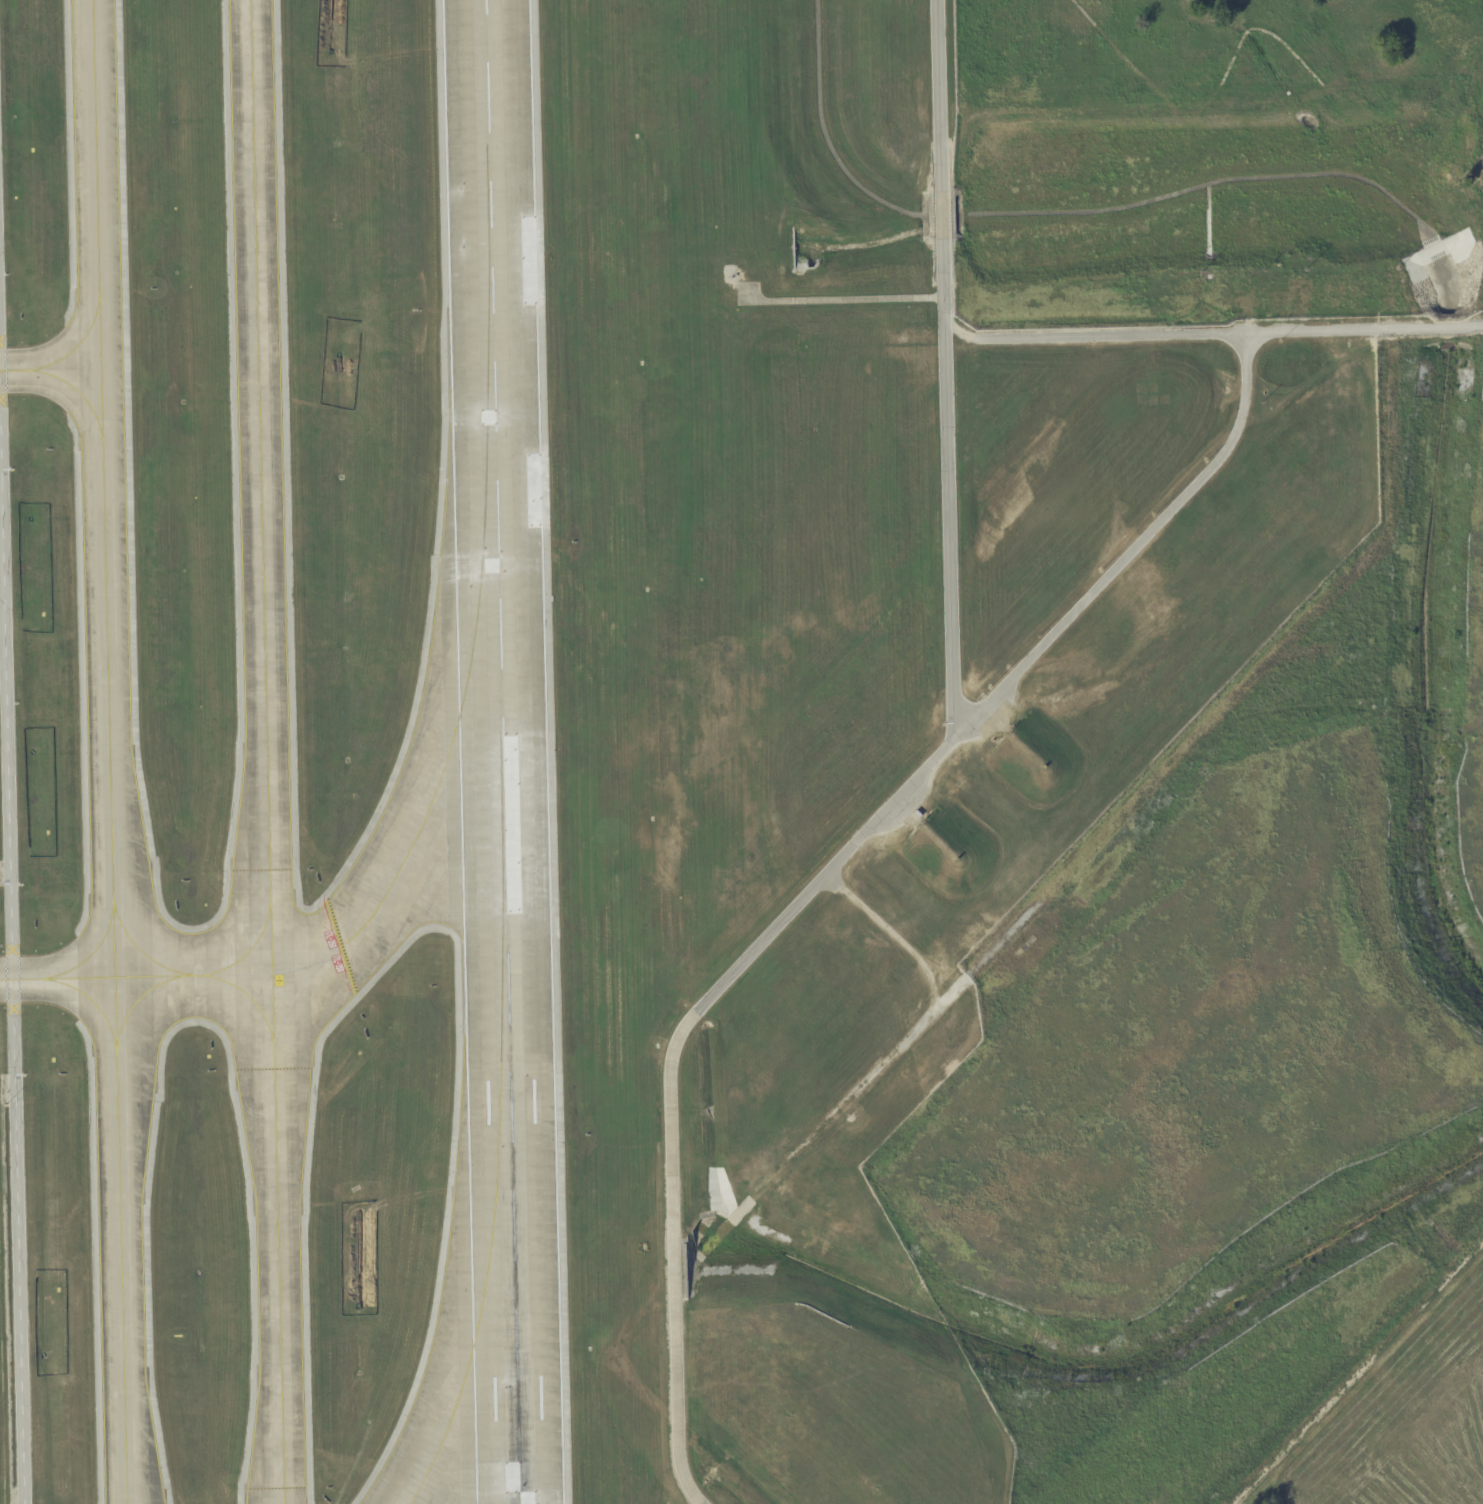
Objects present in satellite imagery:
road: (1364, 329)
road: (1093, 335)
airport taxiway: (77, 343)
road: (943, 362)
airport taxiway: (65, 382)
airport taxiway: (108, 751)
airport taxiway: (447, 751)
airport runway: (501, 751)
airport taxiway: (265, 752)
airport: (741, 752)
road: (827, 869)
airport taxiway: (249, 948)
airport taxiway: (140, 951)
airport taxiway: (89, 953)
road: (9, 991)
airport taxiway: (247, 995)
airport taxiway: (292, 997)
airport taxiway: (90, 1000)
airport taxiway: (135, 1001)
road: (903, 1046)
airport taxiway: (496, 1162)
road: (1351, 1368)

